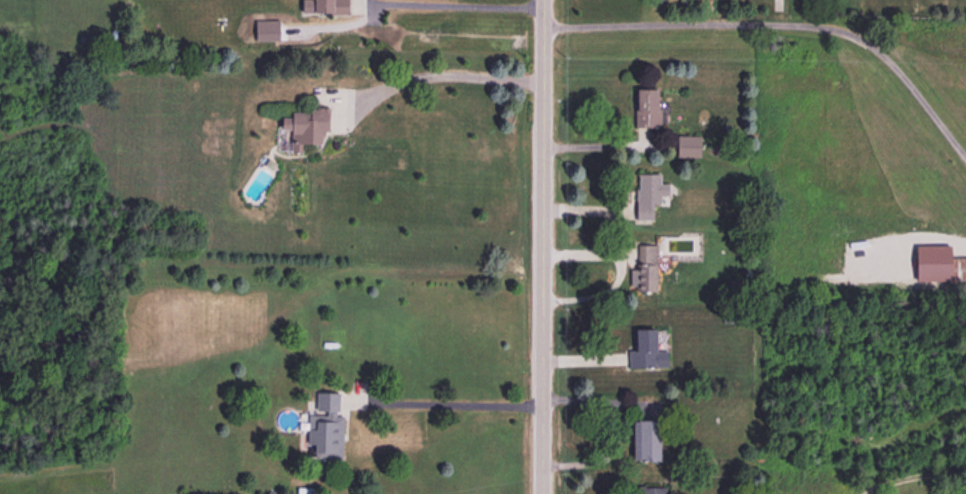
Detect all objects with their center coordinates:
road: (448, 5)
building: (331, 6)
road: (781, 24)
road: (432, 74)
building: (645, 109)
building: (301, 129)
building: (687, 148)
building: (647, 197)
road: (542, 247)
building: (645, 271)
building: (957, 271)
building: (645, 353)
road: (449, 399)
building: (326, 428)
building: (643, 443)
building: (651, 491)

